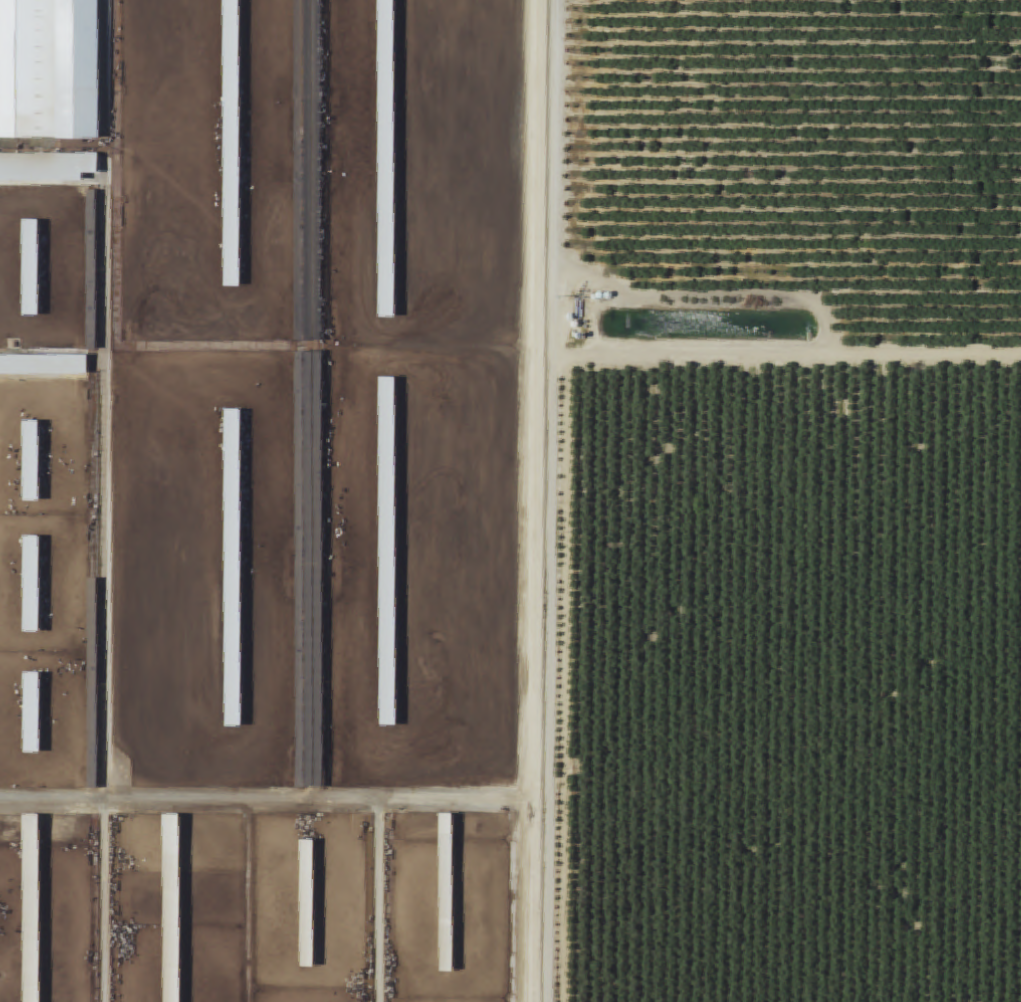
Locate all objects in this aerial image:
building: (49, 70)
building: (232, 143)
building: (387, 159)
building: (47, 167)
building: (30, 268)
road: (781, 357)
building: (44, 366)
building: (31, 461)
road: (540, 500)
building: (388, 552)
building: (233, 568)
building: (31, 584)
building: (31, 713)
road: (265, 798)
building: (446, 892)
building: (306, 903)
building: (31, 908)
building: (171, 908)

